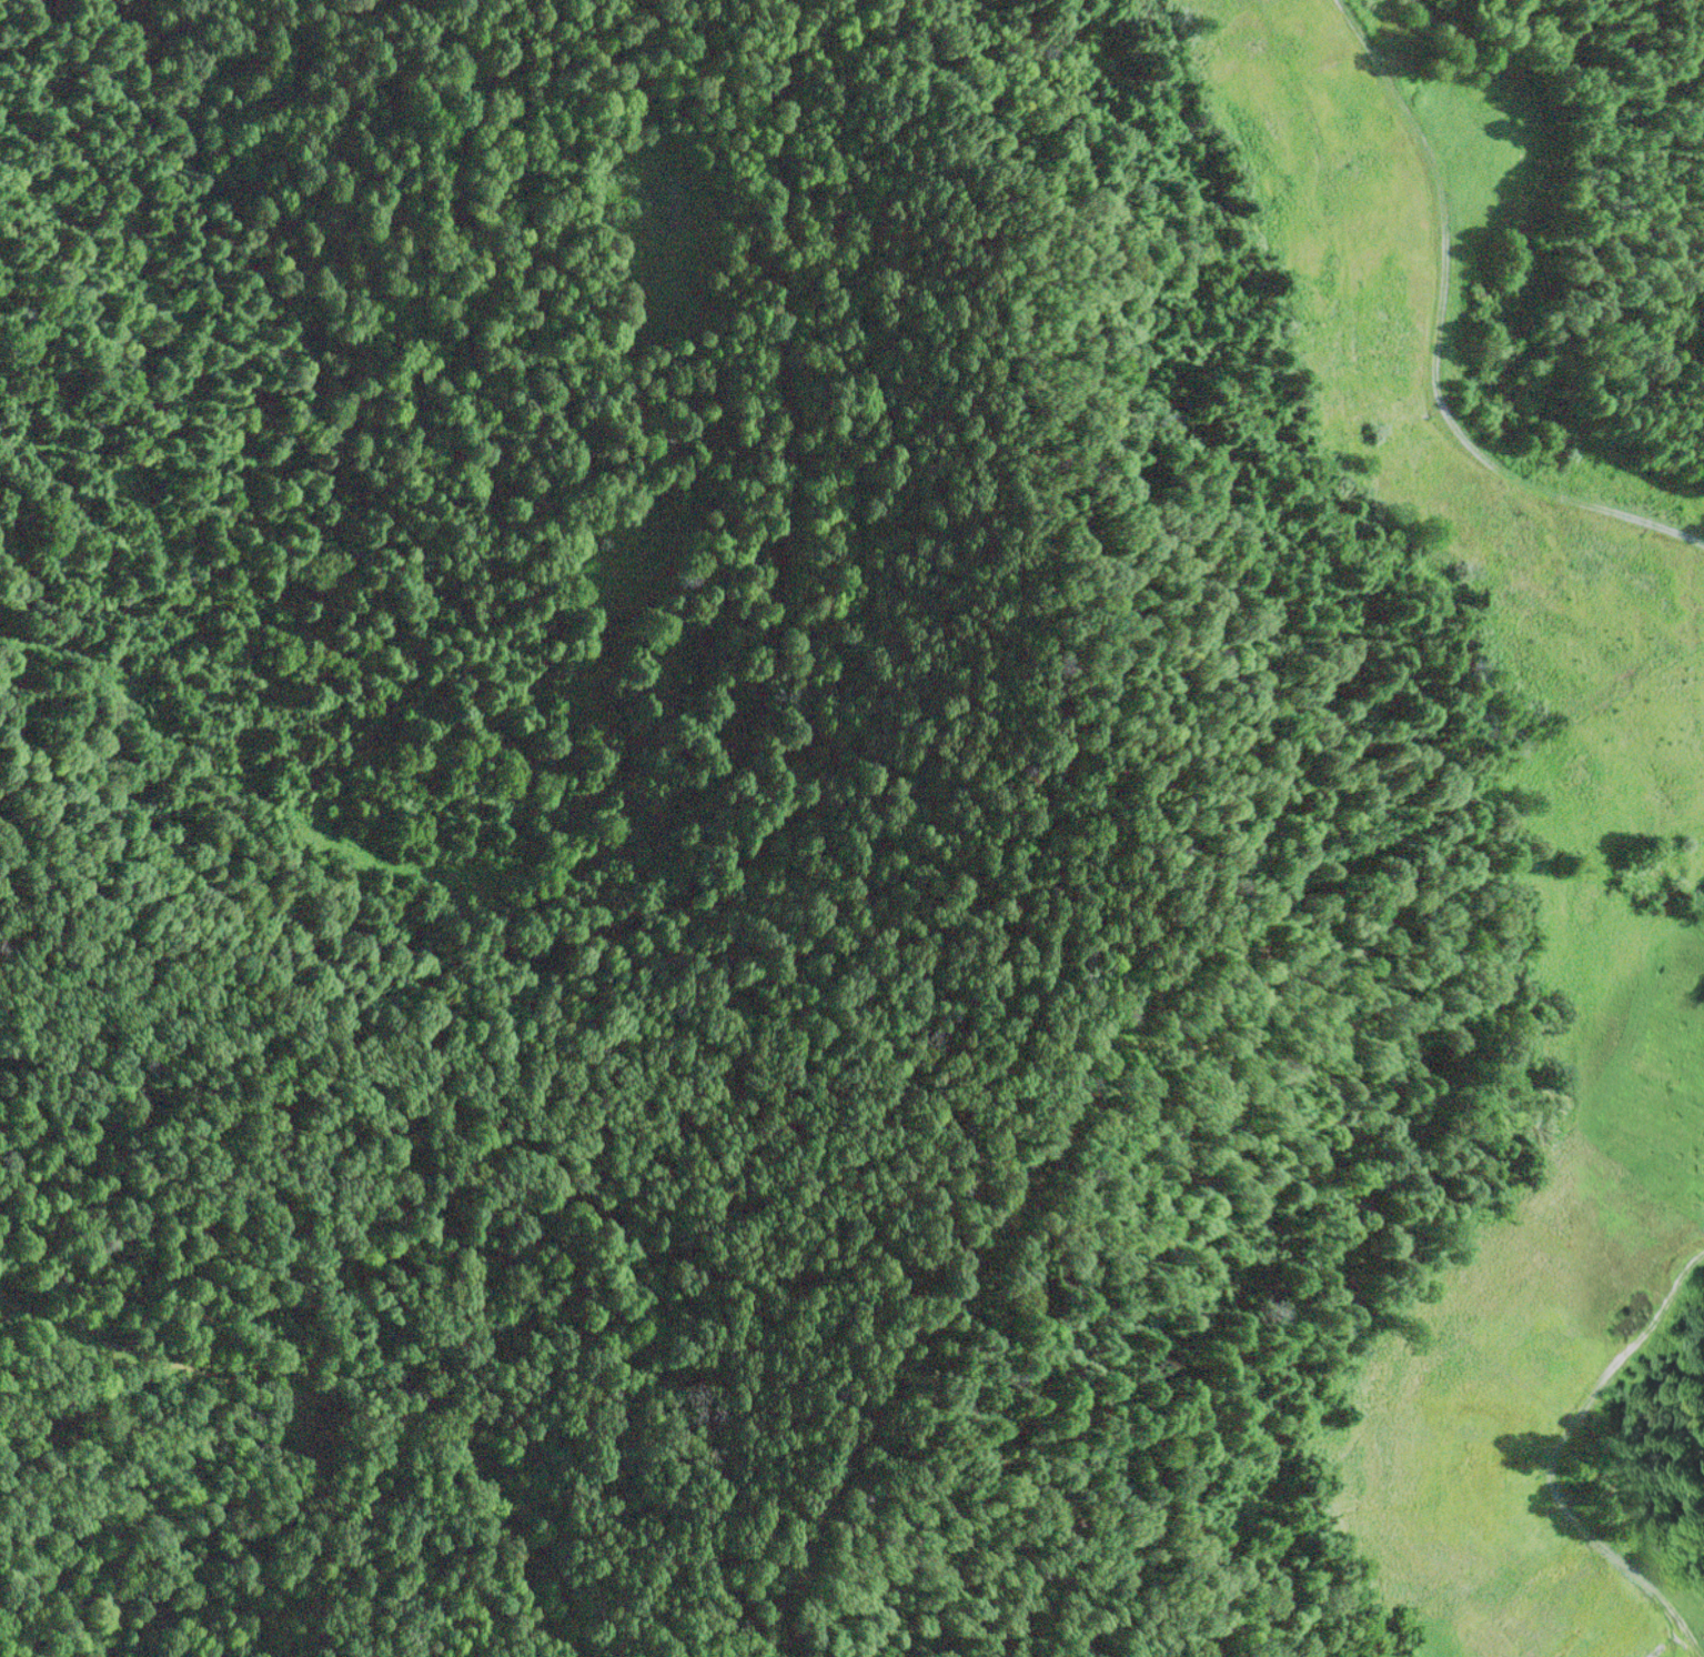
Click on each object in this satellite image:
road: (679, 62)
road: (1436, 340)
road: (307, 800)
road: (346, 1397)
road: (1550, 1455)

